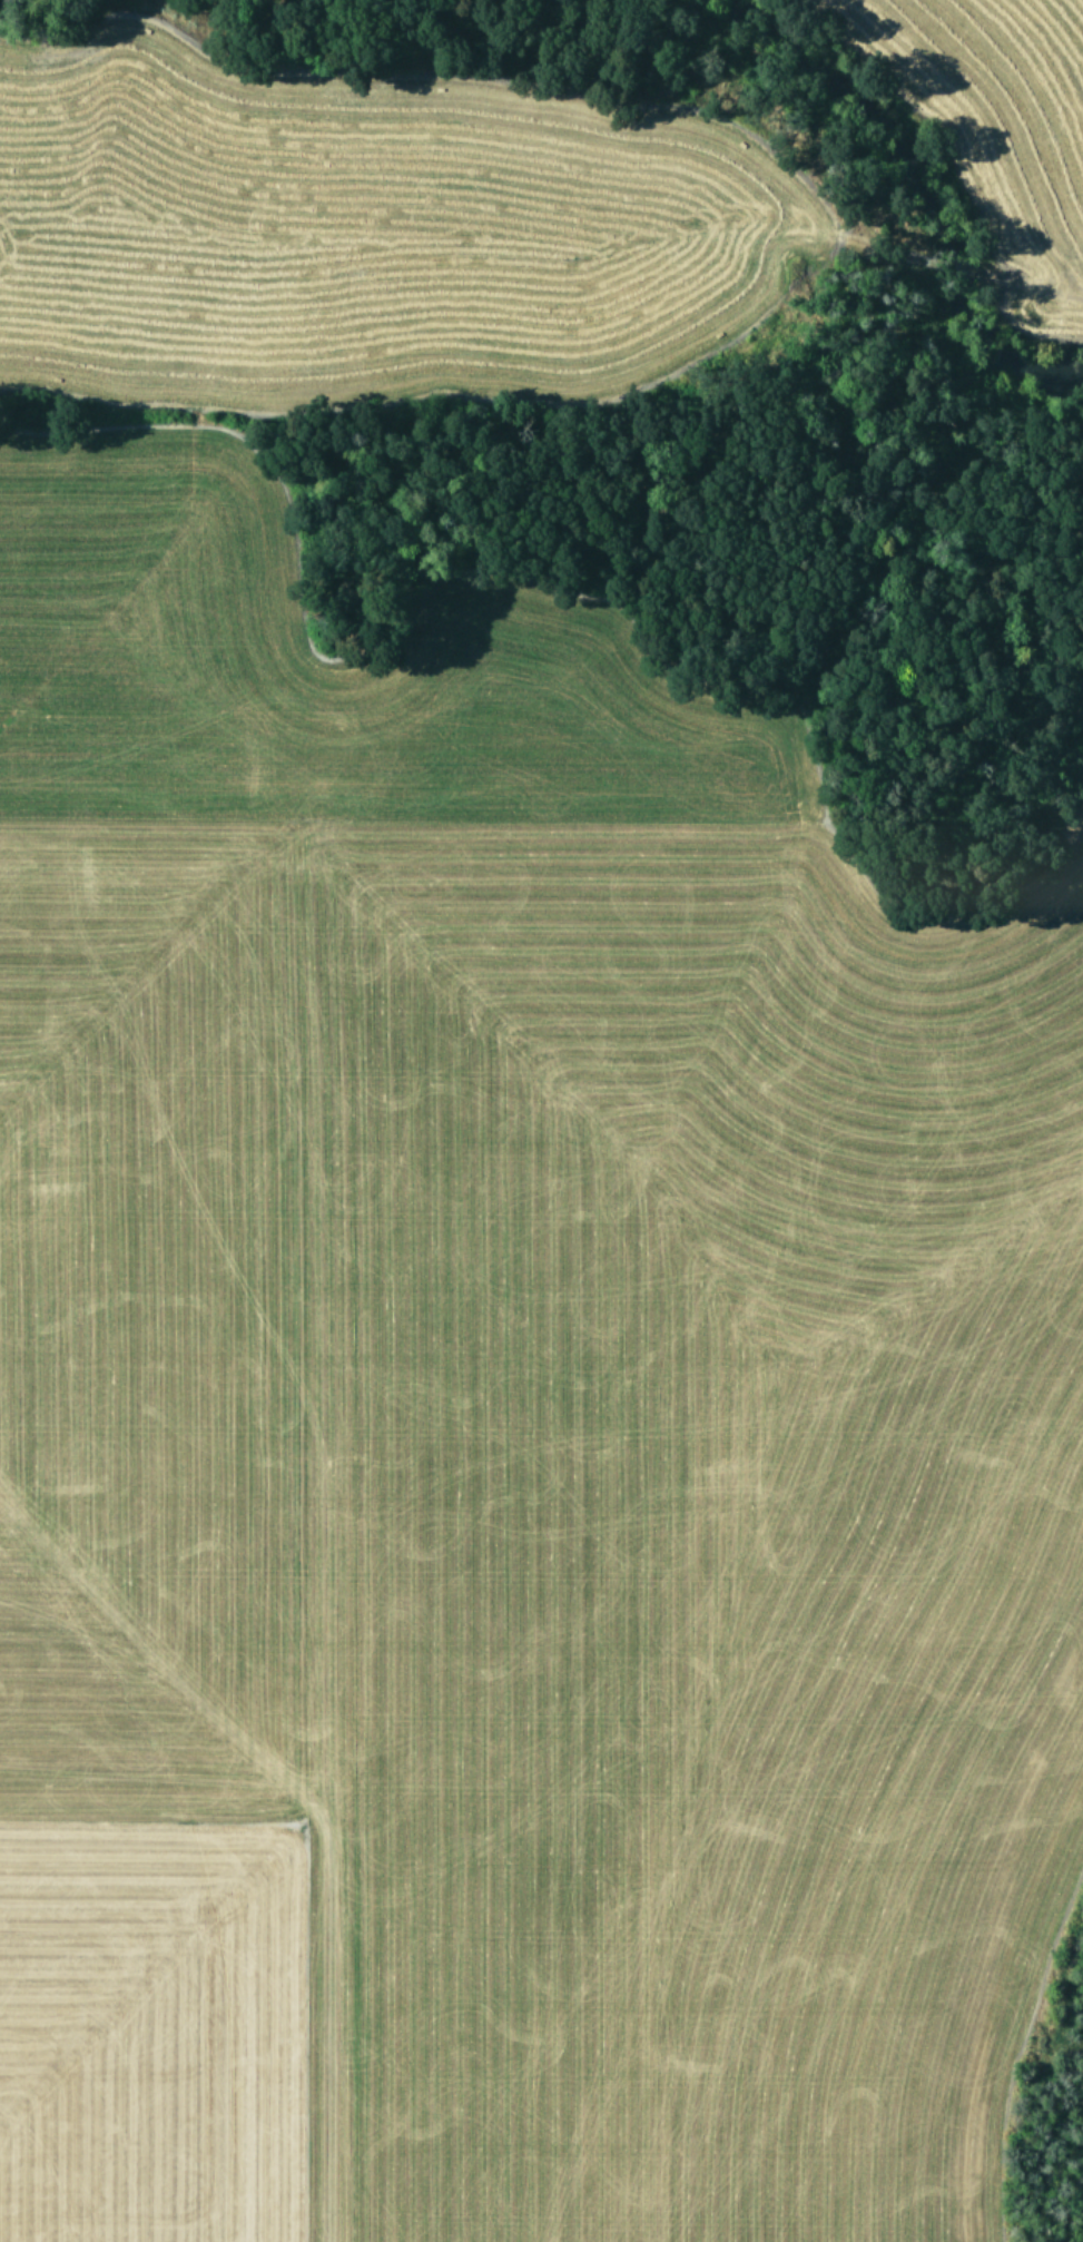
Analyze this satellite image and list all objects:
crop: (349, 218)
crop: (503, 1428)

